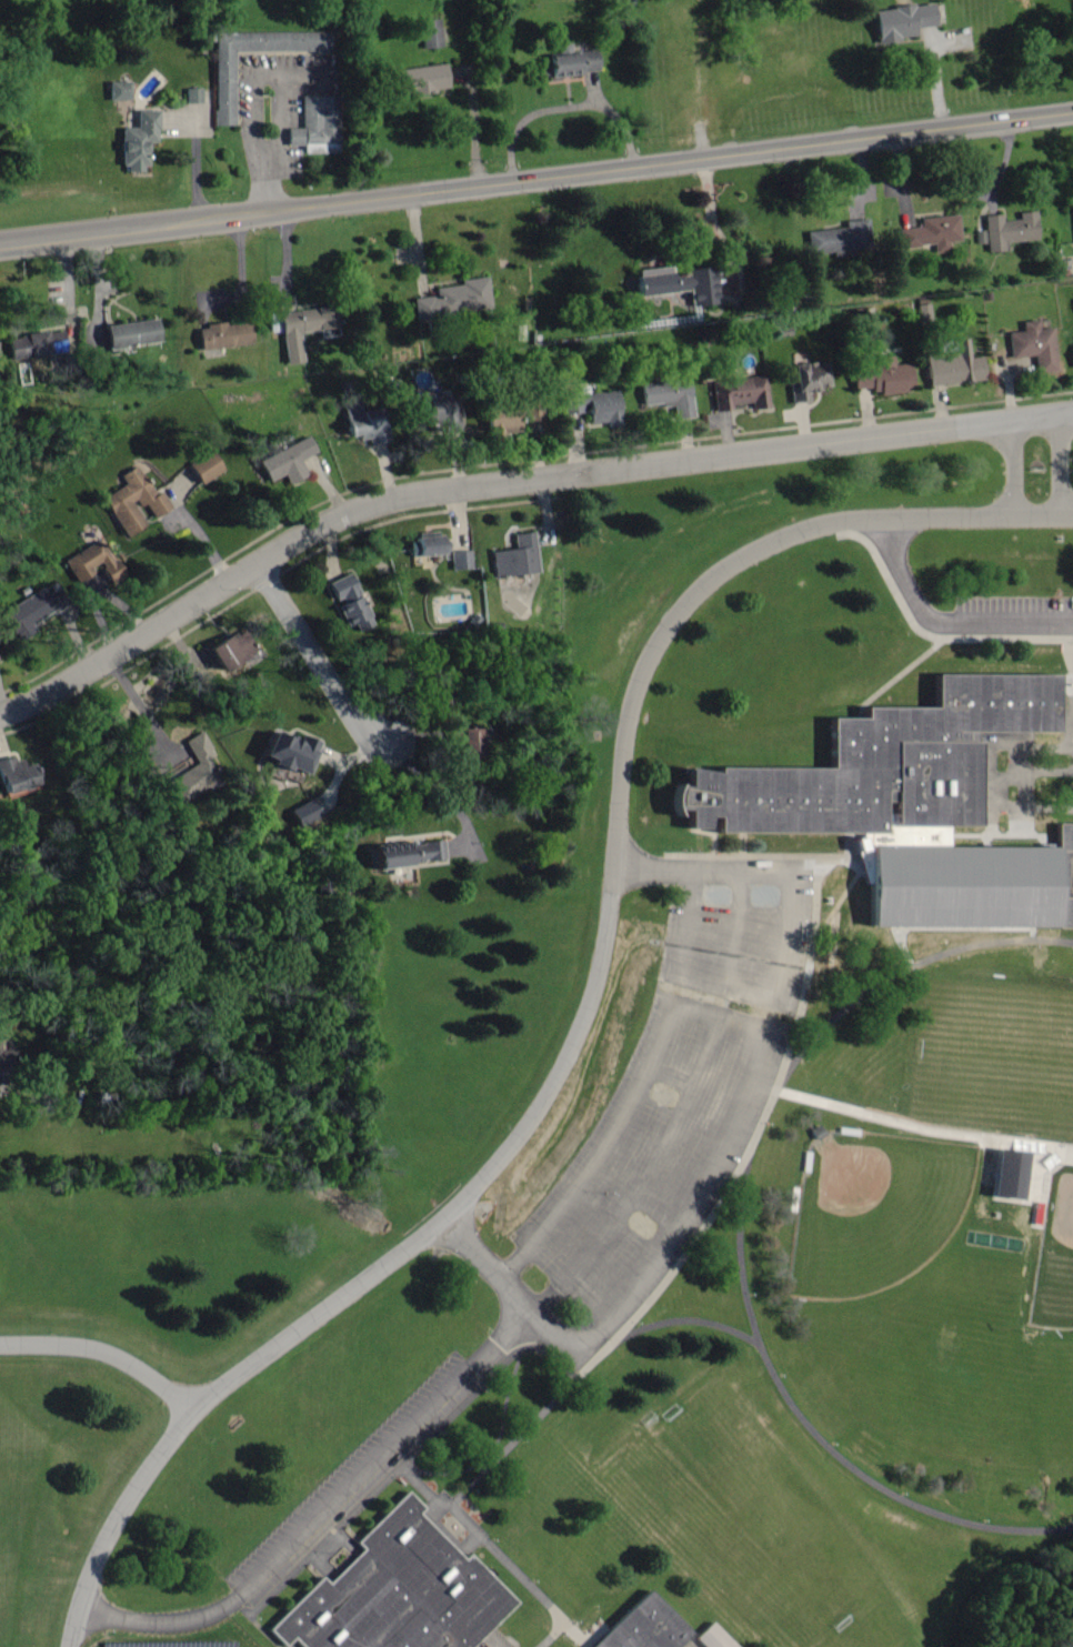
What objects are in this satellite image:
building: (899, 21)
building: (430, 32)
building: (566, 62)
building: (418, 79)
building: (222, 88)
building: (117, 90)
building: (191, 94)
building: (313, 125)
building: (136, 140)
road: (536, 177)
building: (1009, 230)
building: (930, 232)
building: (838, 239)
building: (673, 283)
building: (453, 300)
building: (301, 328)
building: (128, 333)
building: (222, 335)
building: (37, 344)
building: (1032, 345)
building: (1072, 353)
building: (952, 363)
building: (880, 375)
building: (420, 378)
building: (806, 378)
building: (738, 391)
building: (665, 394)
building: (591, 405)
building: (438, 414)
building: (507, 415)
building: (362, 422)
building: (287, 461)
road: (1059, 461)
road: (1011, 463)
building: (203, 466)
road: (509, 476)
building: (132, 500)
road: (1042, 513)
building: (428, 545)
building: (514, 556)
building: (461, 560)
building: (91, 565)
building: (350, 602)
building: (28, 612)
road: (940, 623)
building: (229, 649)
road: (347, 714)
building: (464, 742)
building: (285, 752)
building: (878, 767)
building: (197, 771)
building: (17, 774)
road: (1029, 810)
building: (302, 813)
building: (407, 854)
building: (1063, 876)
road: (1049, 932)
road: (573, 1037)
road: (766, 1048)
road: (634, 1087)
road: (680, 1106)
building: (1004, 1177)
road: (742, 1252)
road: (510, 1287)
road: (107, 1345)
road: (327, 1509)
building: (398, 1590)
building: (644, 1626)
building: (714, 1637)

